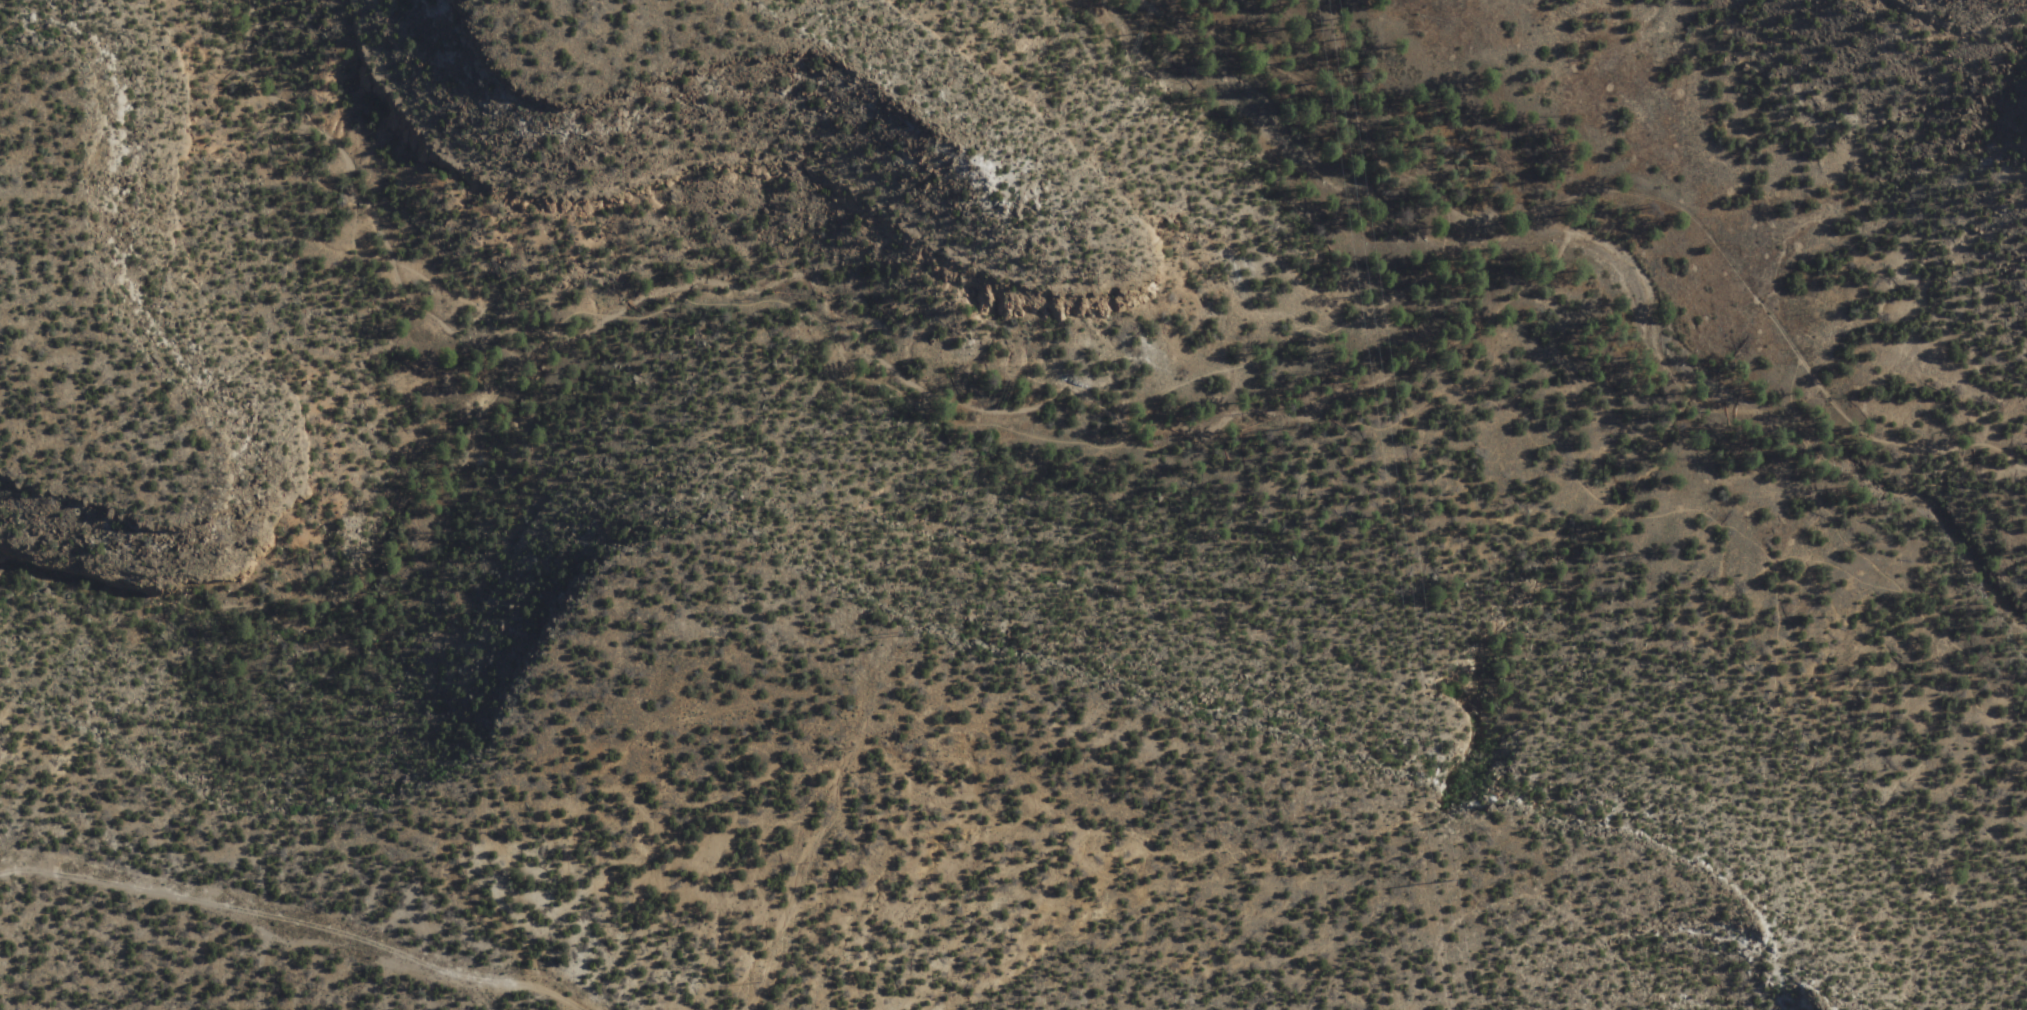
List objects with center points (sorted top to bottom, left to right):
road: (1457, 236)
road: (793, 308)
road: (1919, 446)
road: (1728, 527)
road: (1928, 533)
road: (1876, 576)
road: (1848, 593)
road: (1573, 919)
road: (290, 926)

